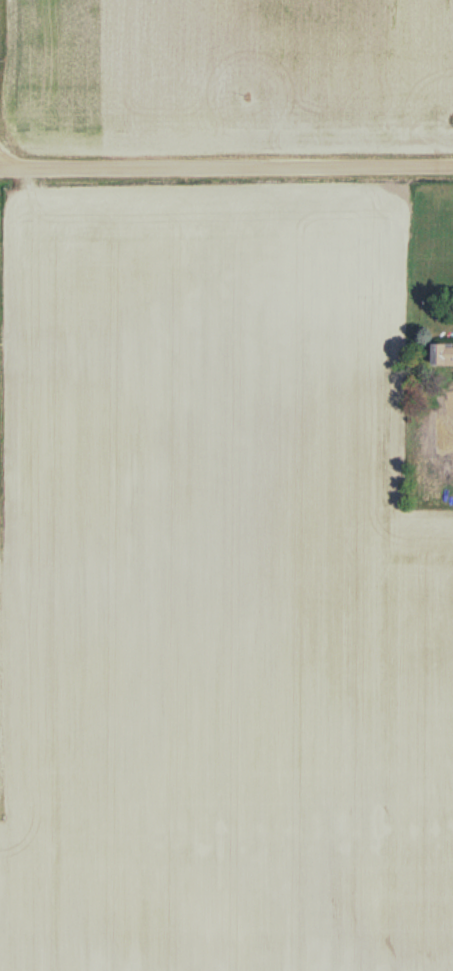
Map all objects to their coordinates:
road: (226, 177)
building: (442, 355)
building: (444, 428)

